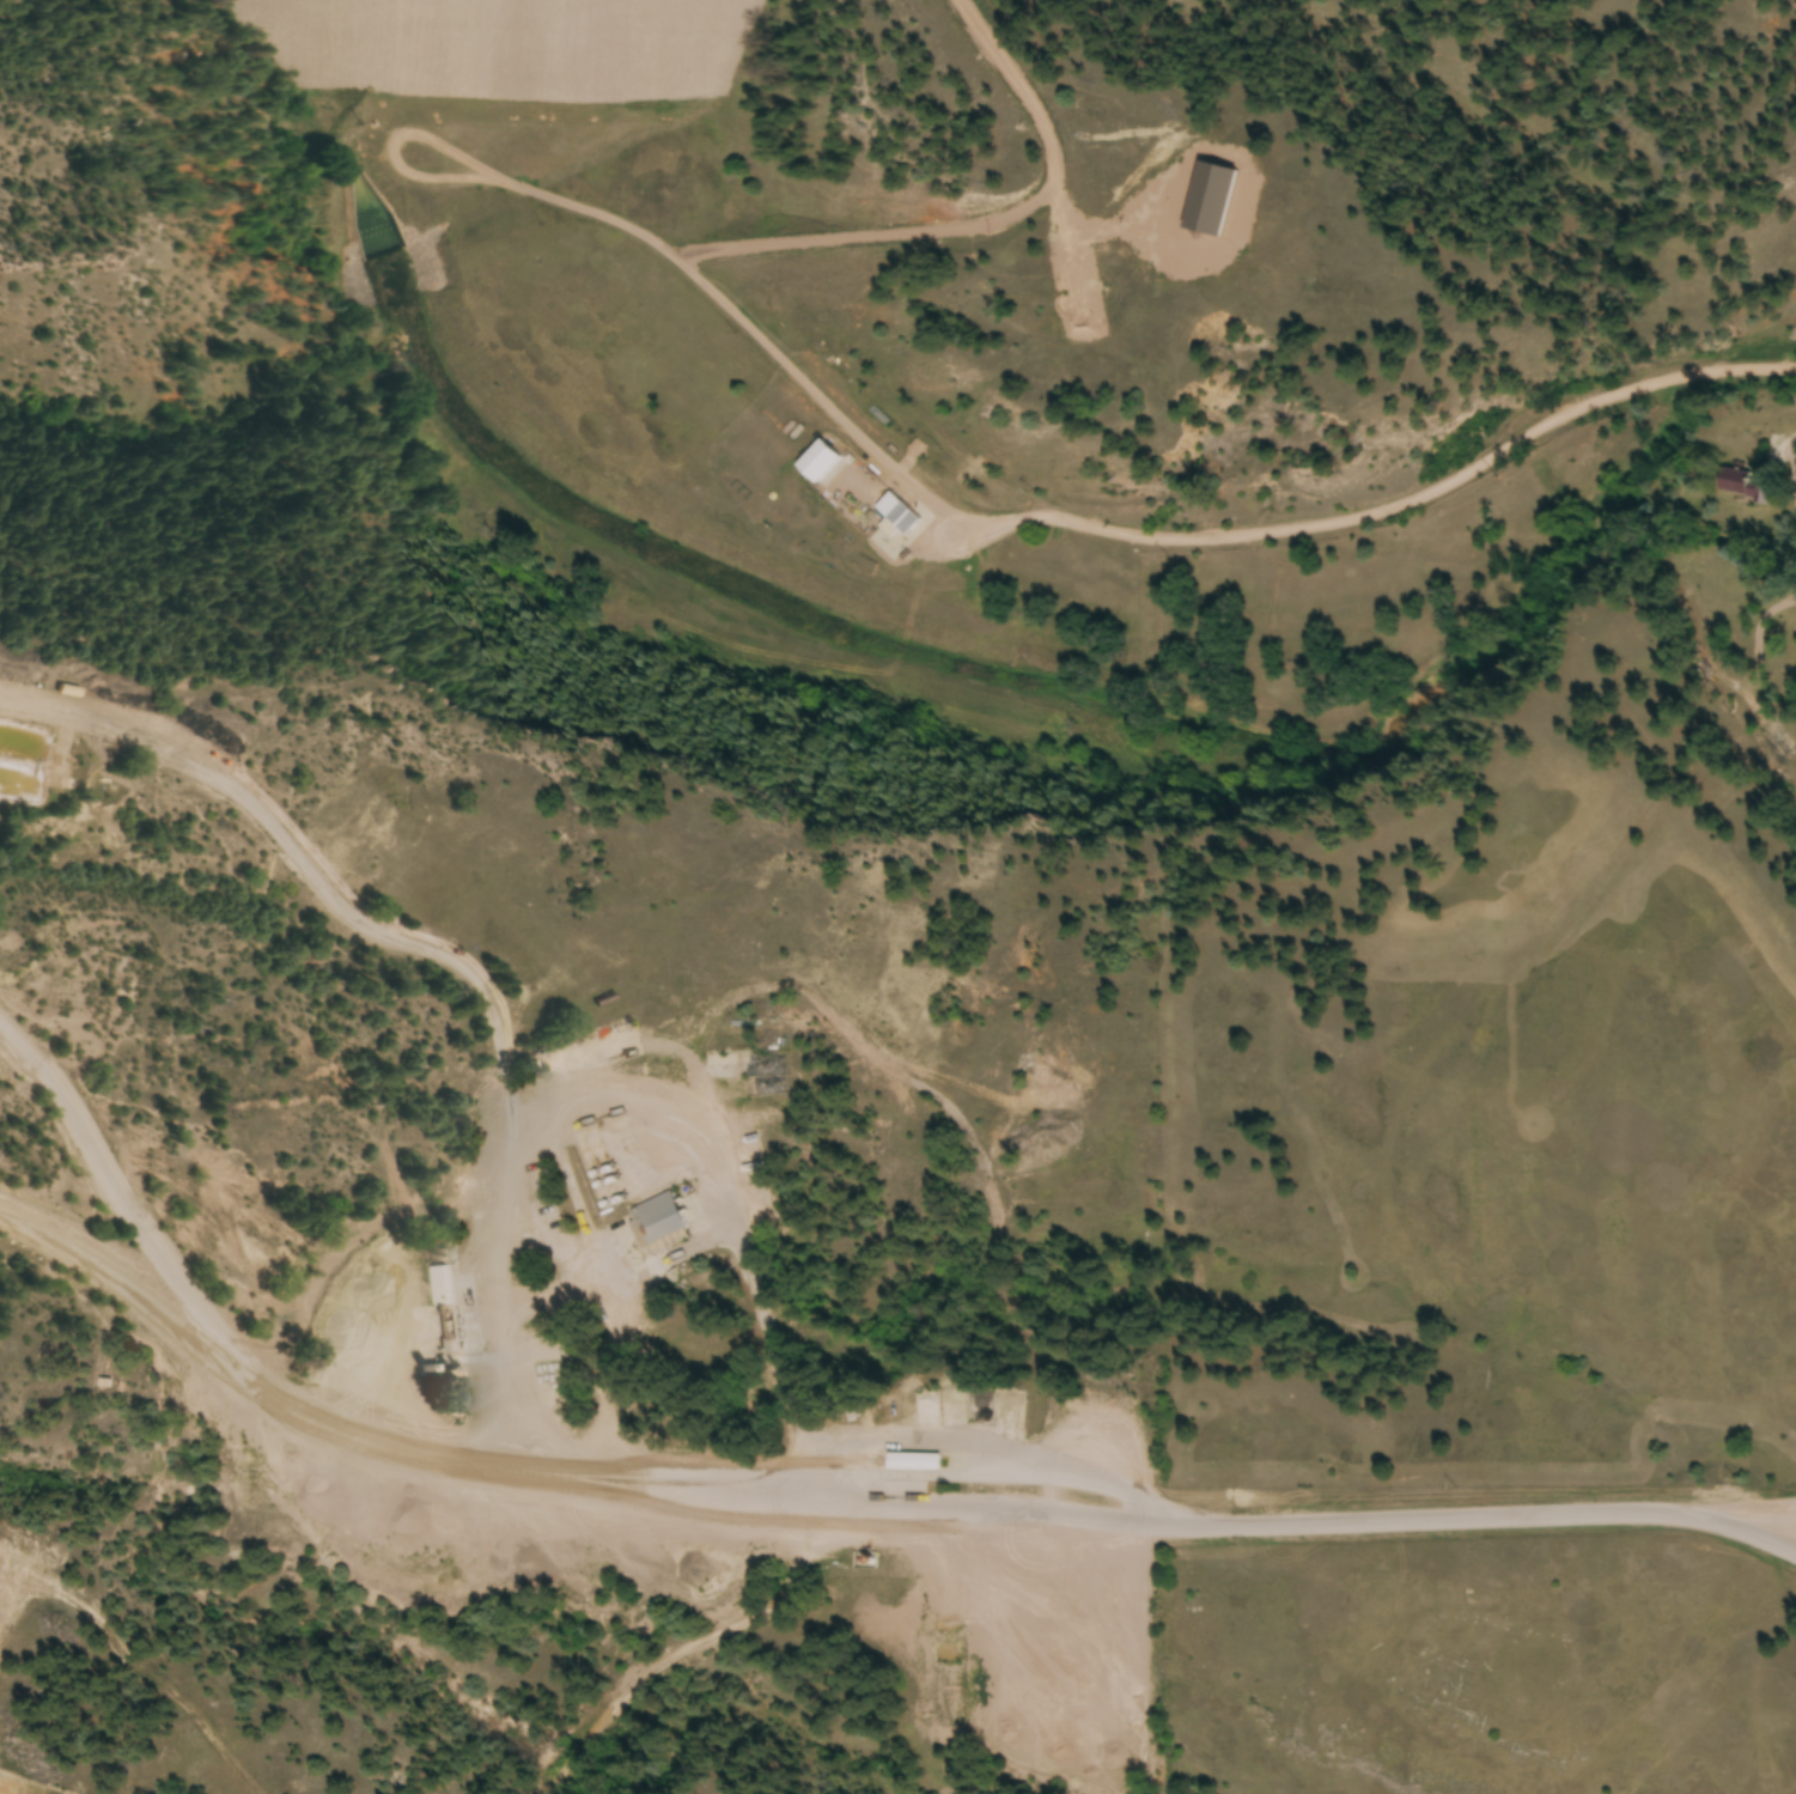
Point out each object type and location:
road: (395, 151)
road: (978, 226)
building: (820, 466)
building: (1740, 487)
road: (1101, 529)
building: (1772, 734)
building: (1795, 786)
building: (766, 1088)
building: (655, 1220)
building: (912, 1462)
road: (1218, 1526)
road: (1743, 1534)

